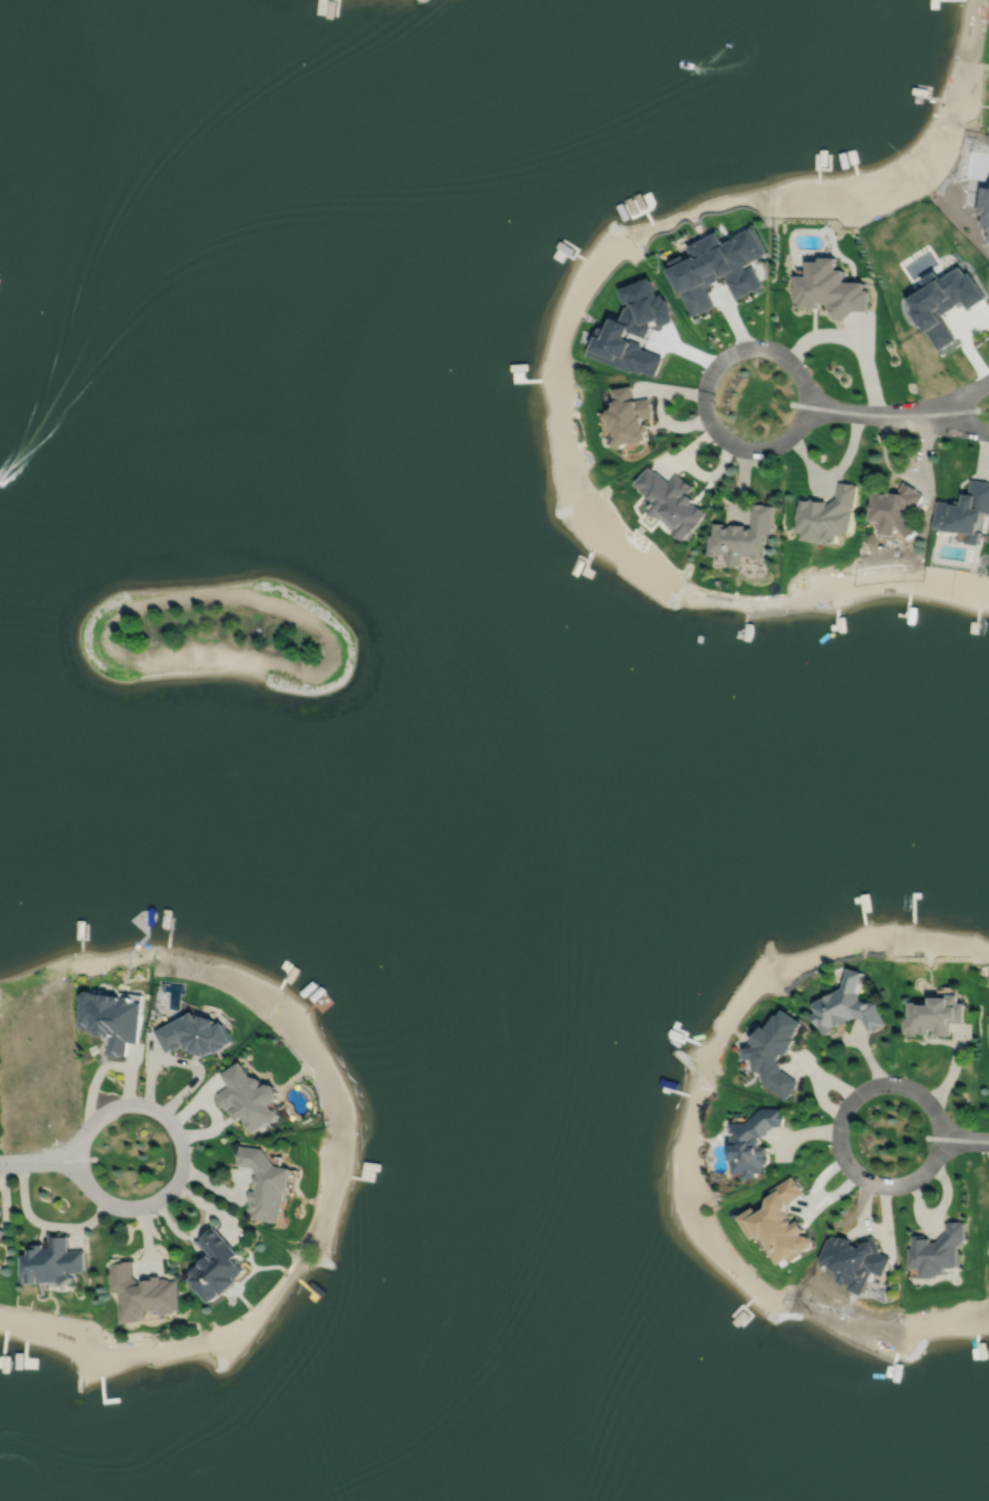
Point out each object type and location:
building: (718, 270)
building: (829, 291)
building: (943, 305)
building: (632, 327)
road: (859, 341)
road: (703, 392)
road: (941, 404)
building: (629, 416)
road: (897, 416)
building: (671, 500)
building: (893, 509)
building: (965, 511)
building: (827, 515)
building: (744, 536)
building: (847, 1004)
building: (933, 1014)
building: (113, 1018)
building: (195, 1032)
building: (775, 1050)
building: (249, 1095)
road: (837, 1130)
building: (753, 1141)
road: (963, 1141)
road: (180, 1154)
road: (38, 1160)
building: (266, 1182)
road: (44, 1222)
building: (780, 1222)
building: (2, 1230)
building: (0, 1243)
building: (937, 1250)
building: (53, 1260)
building: (857, 1260)
building: (217, 1265)
building: (143, 1292)

